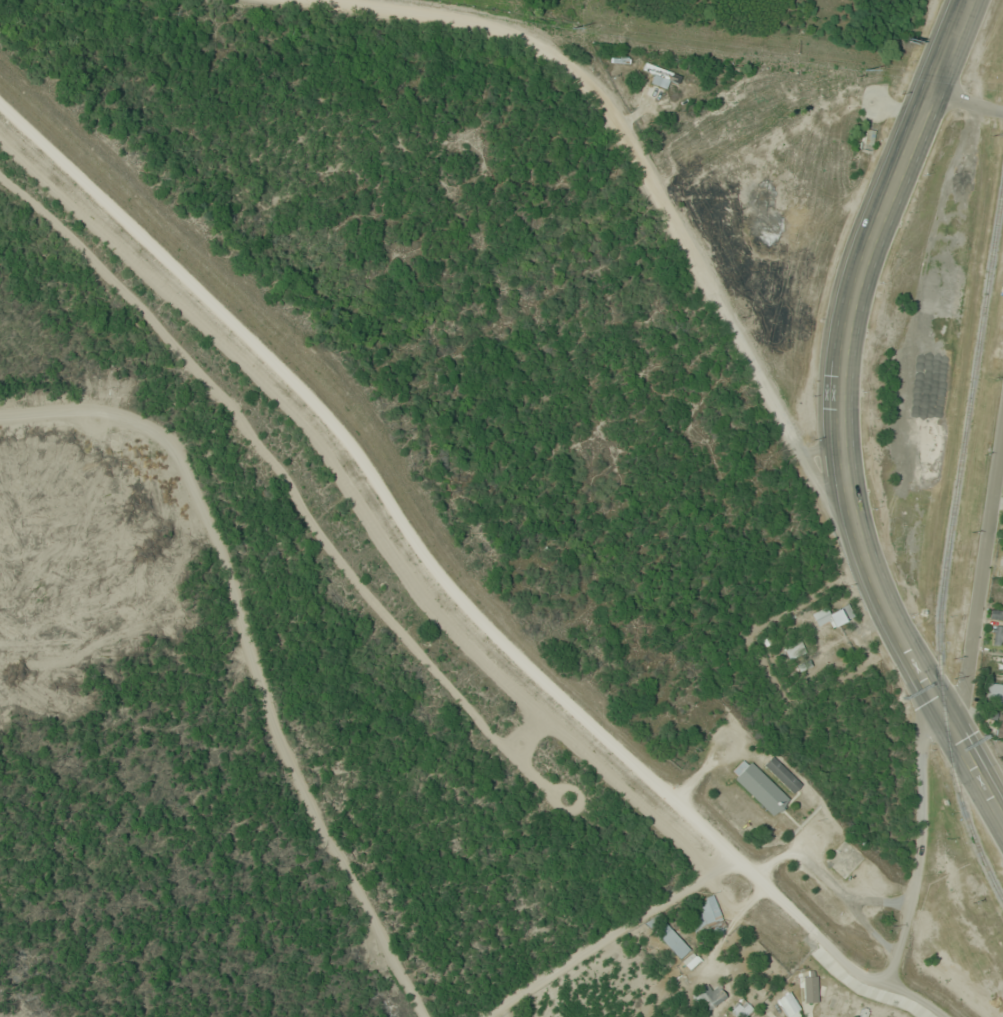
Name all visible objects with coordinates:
building: (660, 76)
building: (757, 91)
road: (968, 101)
road: (646, 170)
road: (877, 234)
railway: (949, 546)
road: (980, 582)
road: (448, 585)
building: (996, 614)
building: (832, 616)
building: (996, 635)
building: (794, 650)
road: (913, 652)
road: (251, 655)
building: (998, 663)
building: (994, 692)
building: (999, 726)
building: (780, 775)
building: (758, 787)
road: (918, 828)
building: (707, 915)
road: (607, 934)
building: (667, 936)
building: (809, 988)
building: (707, 997)
building: (789, 1005)
building: (744, 1009)

